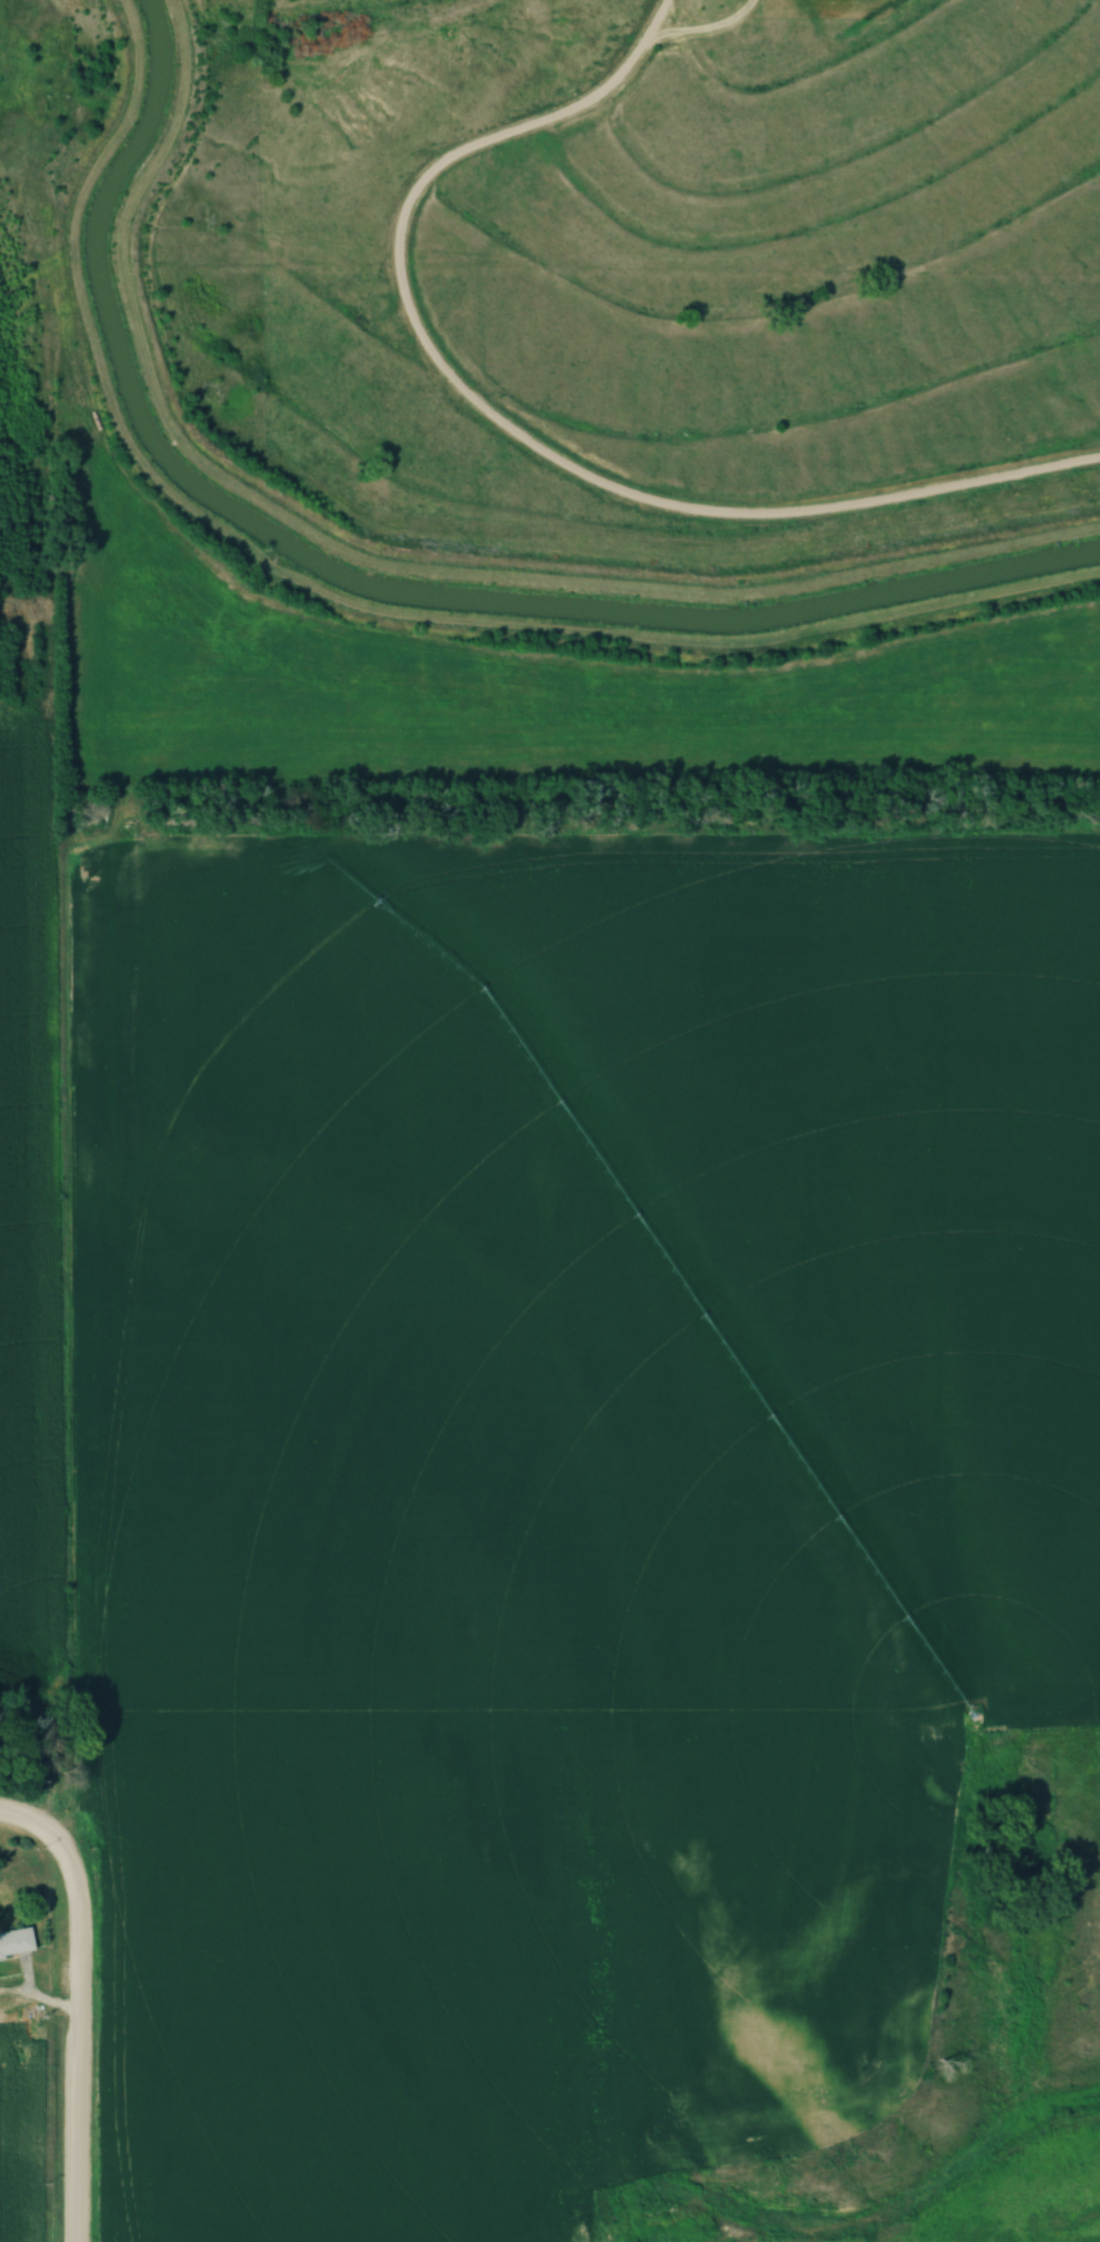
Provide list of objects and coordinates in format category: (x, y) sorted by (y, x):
building: (14, 1942)
road: (38, 2005)
road: (75, 2010)

